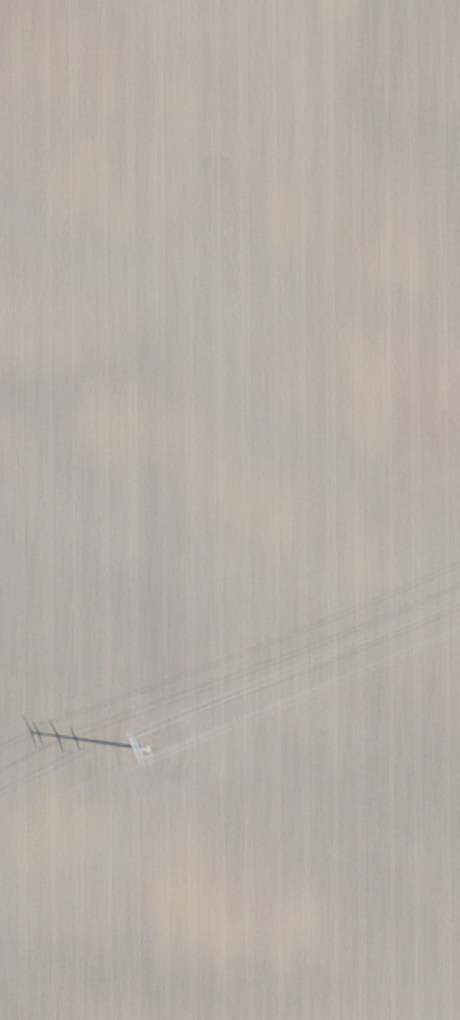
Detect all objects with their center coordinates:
power tower: (150, 748)

